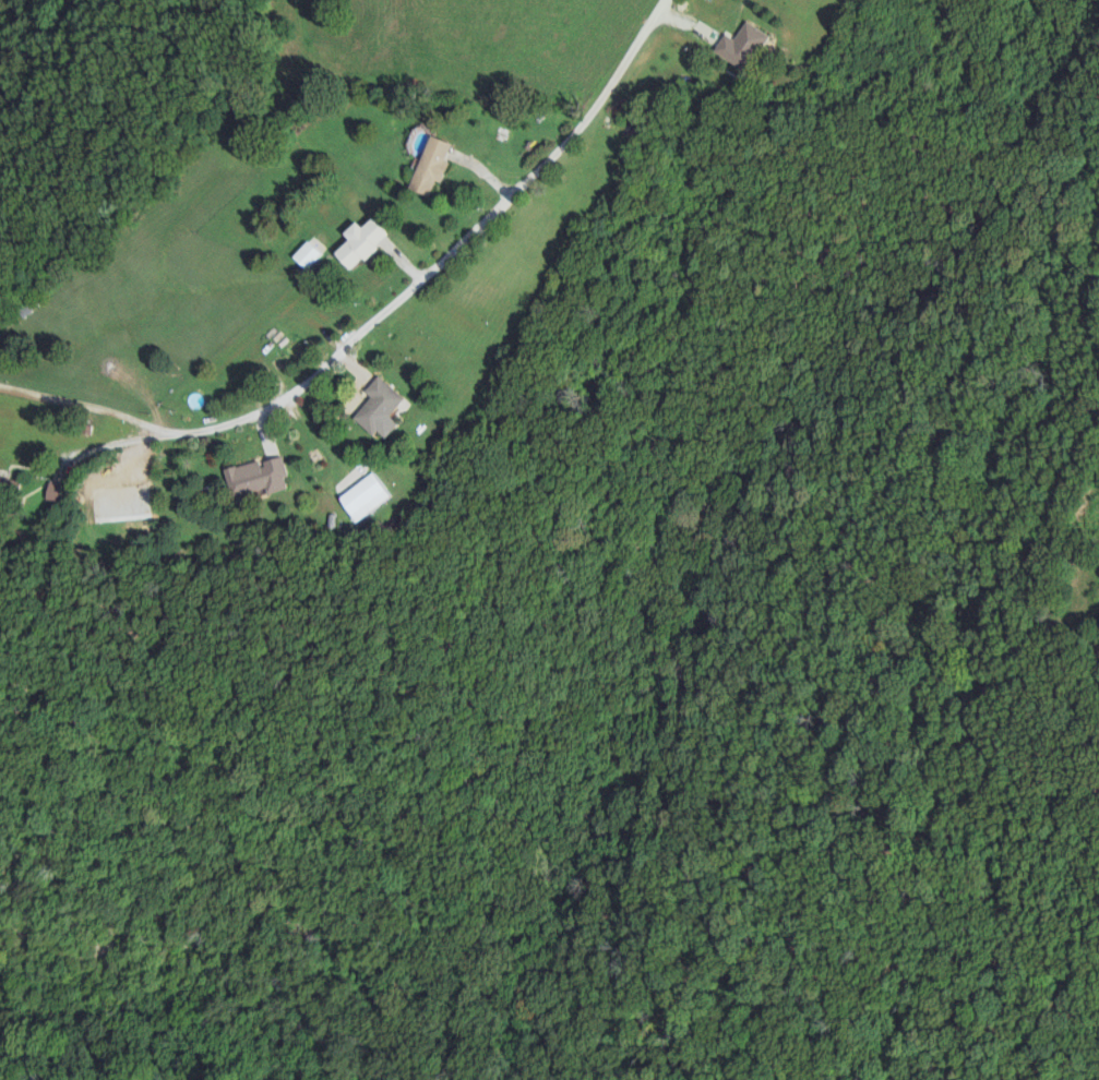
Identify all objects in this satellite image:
building: (743, 46)
building: (434, 166)
building: (365, 242)
road: (404, 249)
building: (310, 255)
road: (395, 289)
road: (84, 404)
building: (380, 408)
road: (322, 424)
building: (255, 479)
building: (8, 488)
building: (56, 492)
building: (365, 497)

